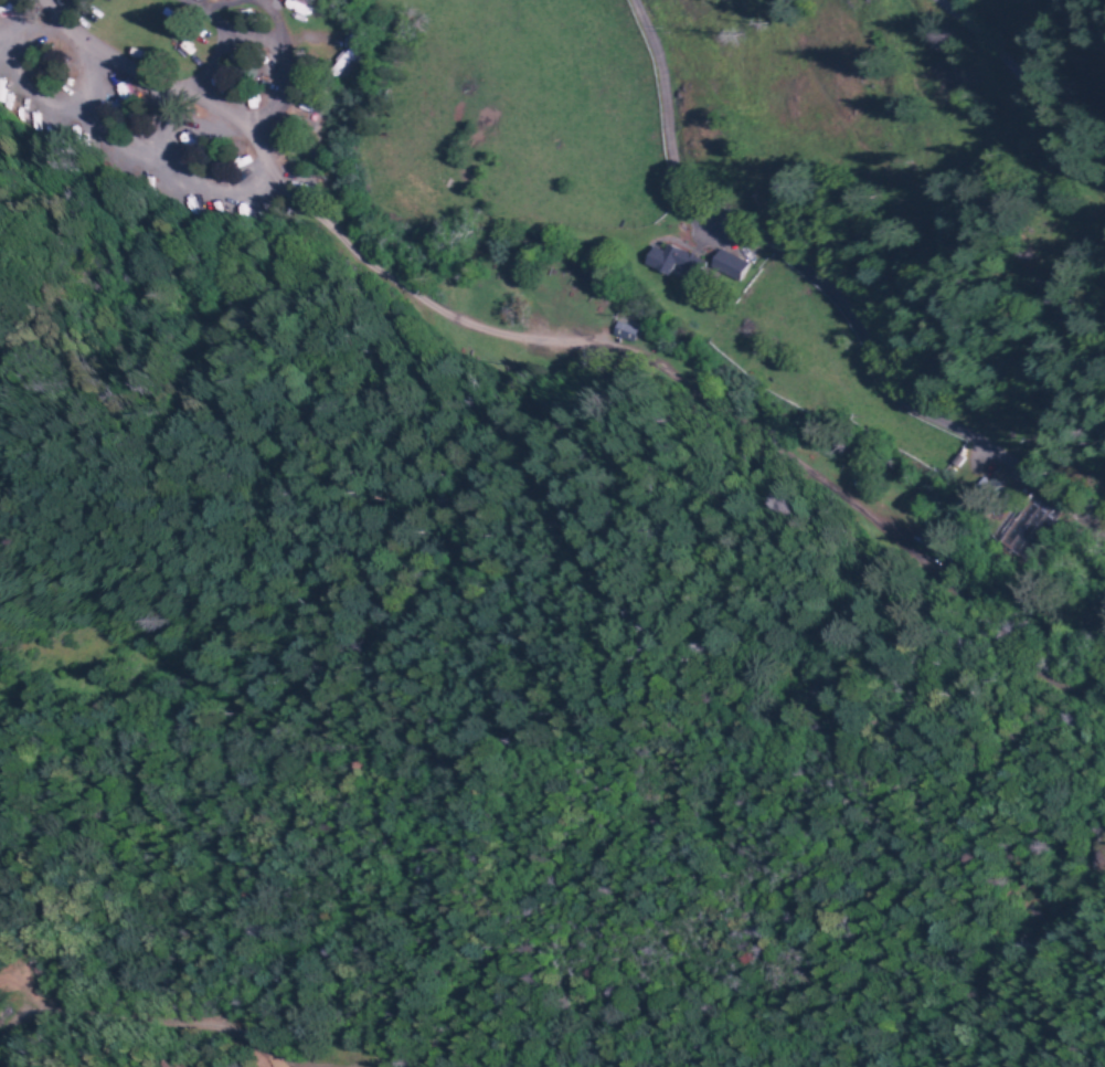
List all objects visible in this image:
road: (1020, 91)
building: (667, 260)
building: (731, 261)
road: (821, 290)
building: (625, 329)

